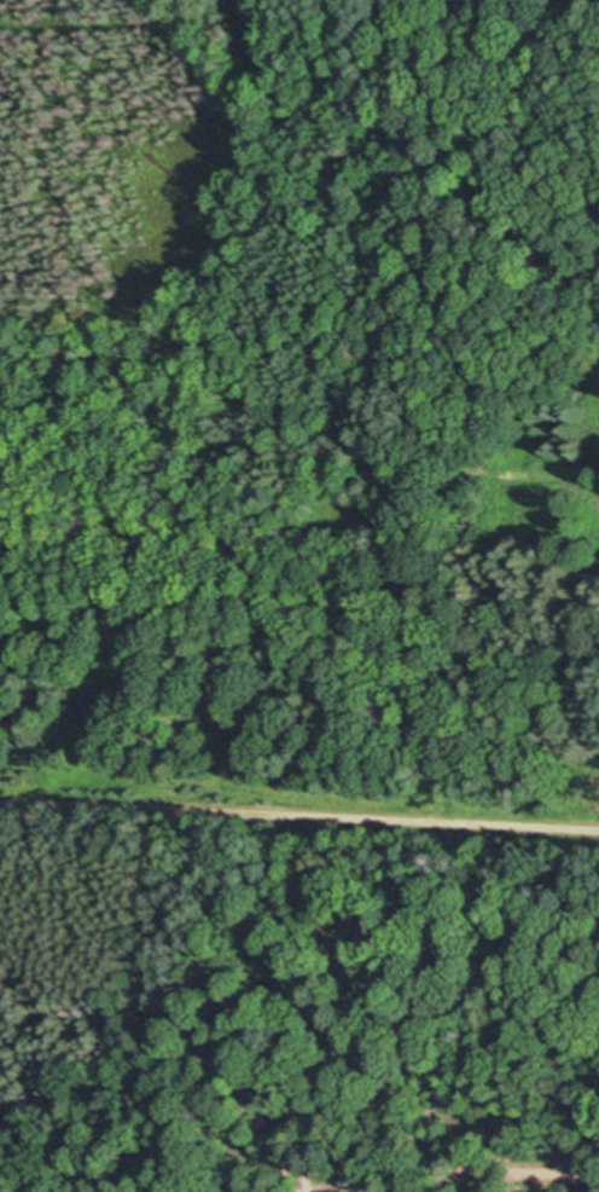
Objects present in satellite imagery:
road: (299, 817)

